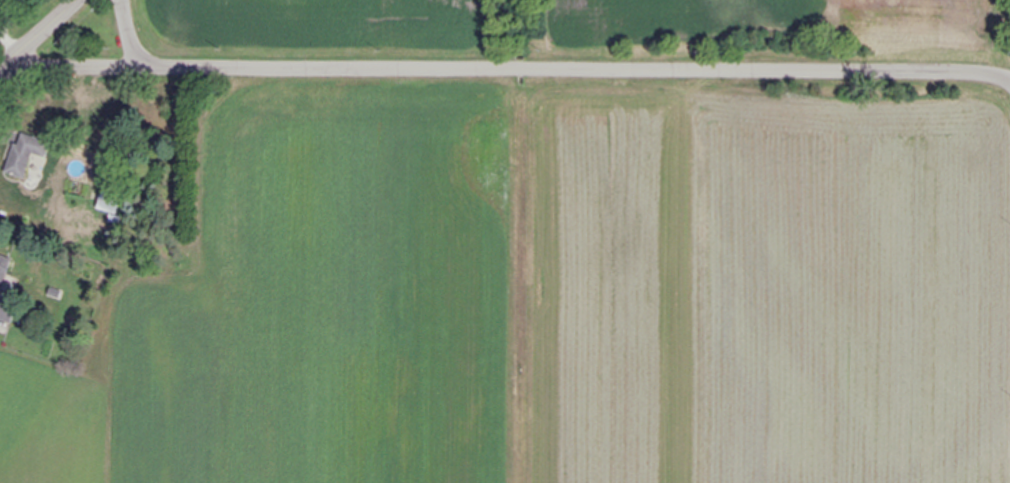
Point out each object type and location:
road: (38, 30)
road: (129, 35)
road: (2, 62)
road: (73, 64)
road: (576, 67)
building: (25, 154)
building: (110, 202)
building: (3, 269)

